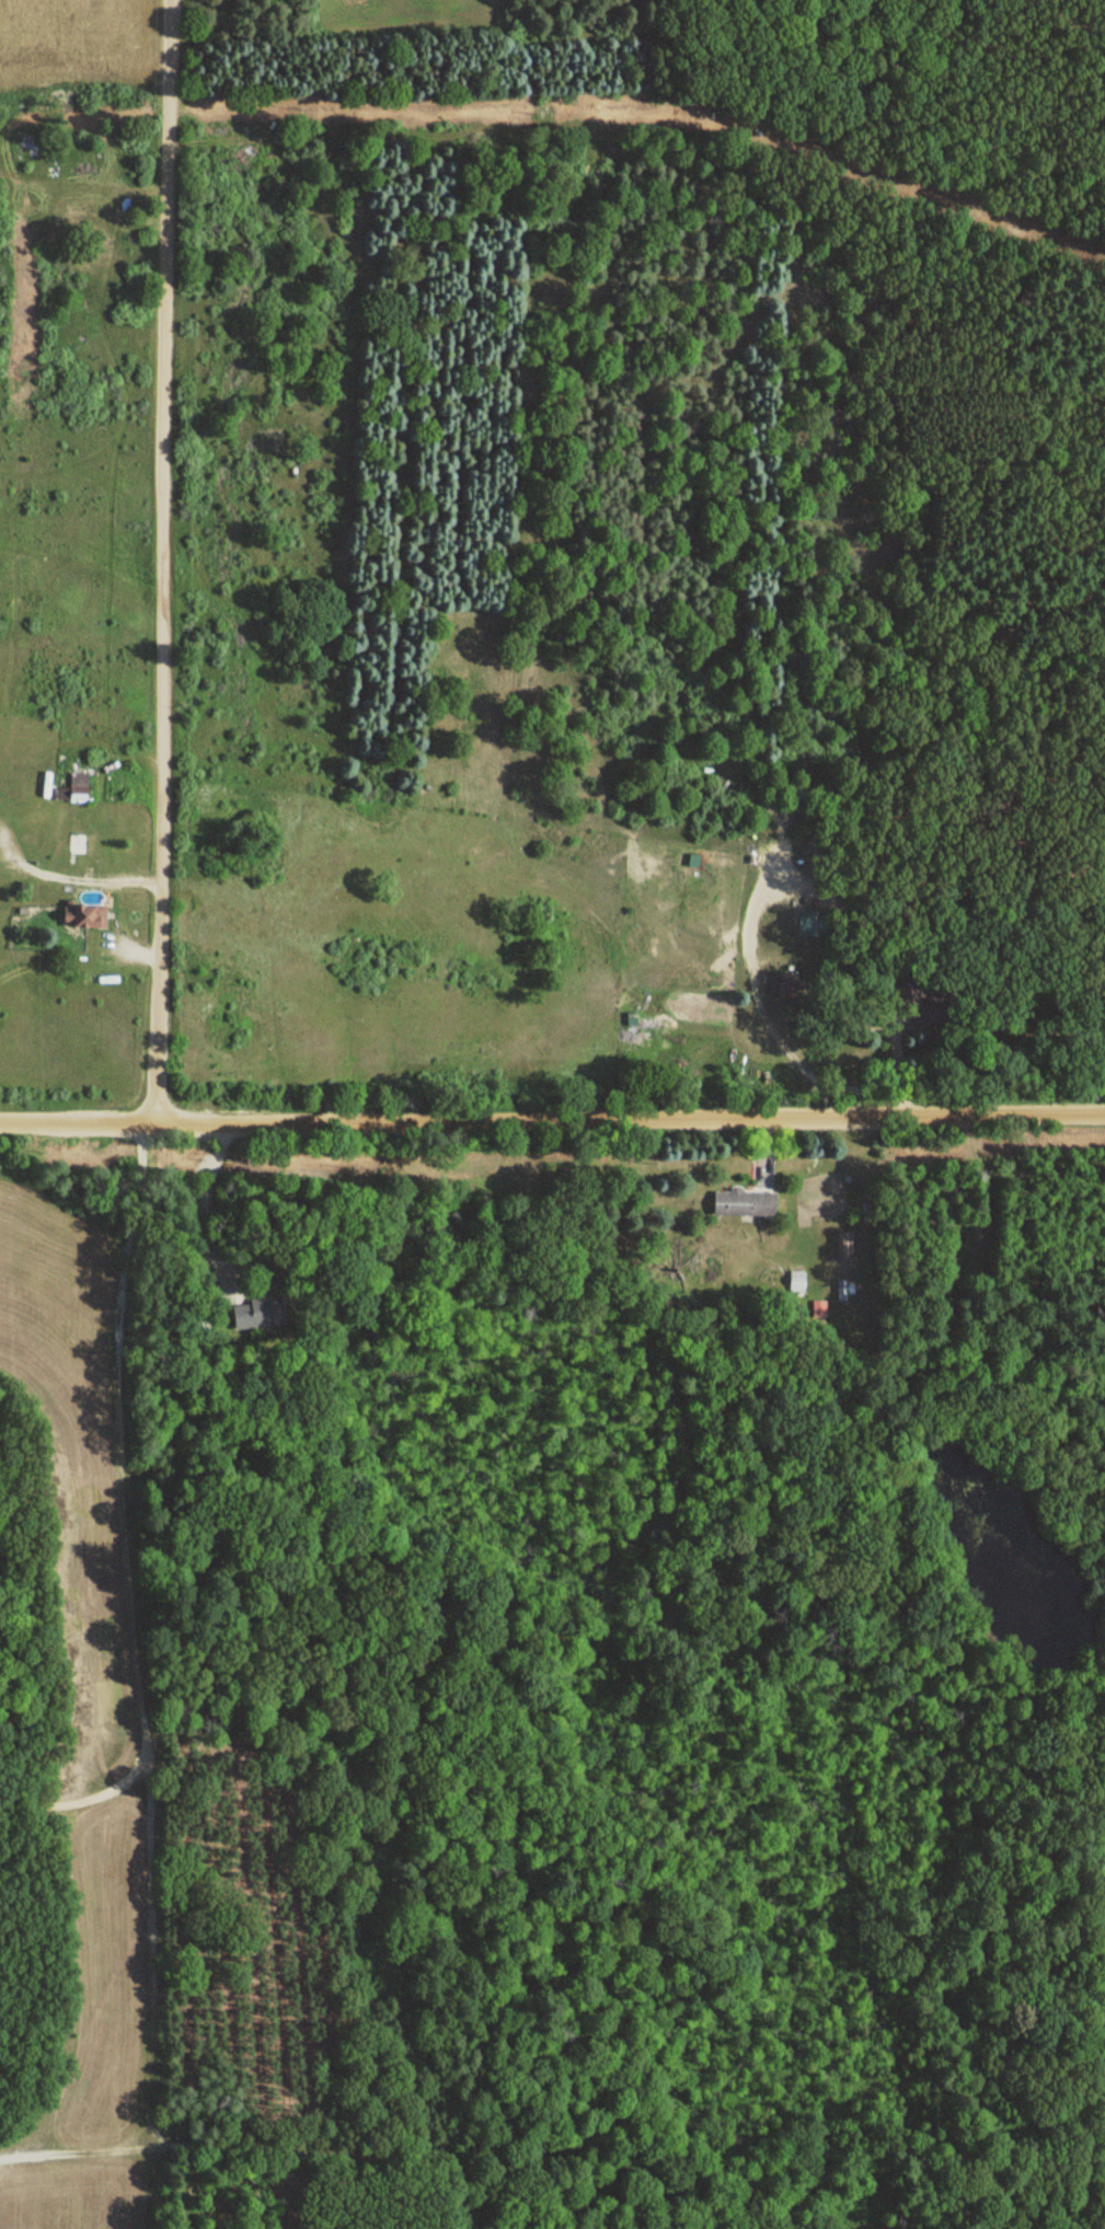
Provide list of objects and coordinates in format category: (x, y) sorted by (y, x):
road: (163, 561)
building: (73, 790)
building: (77, 850)
building: (82, 919)
building: (809, 925)
building: (783, 985)
building: (909, 994)
building: (937, 1013)
road: (552, 1120)
building: (741, 1204)
building: (849, 1247)
building: (258, 1314)
road: (157, 1675)

